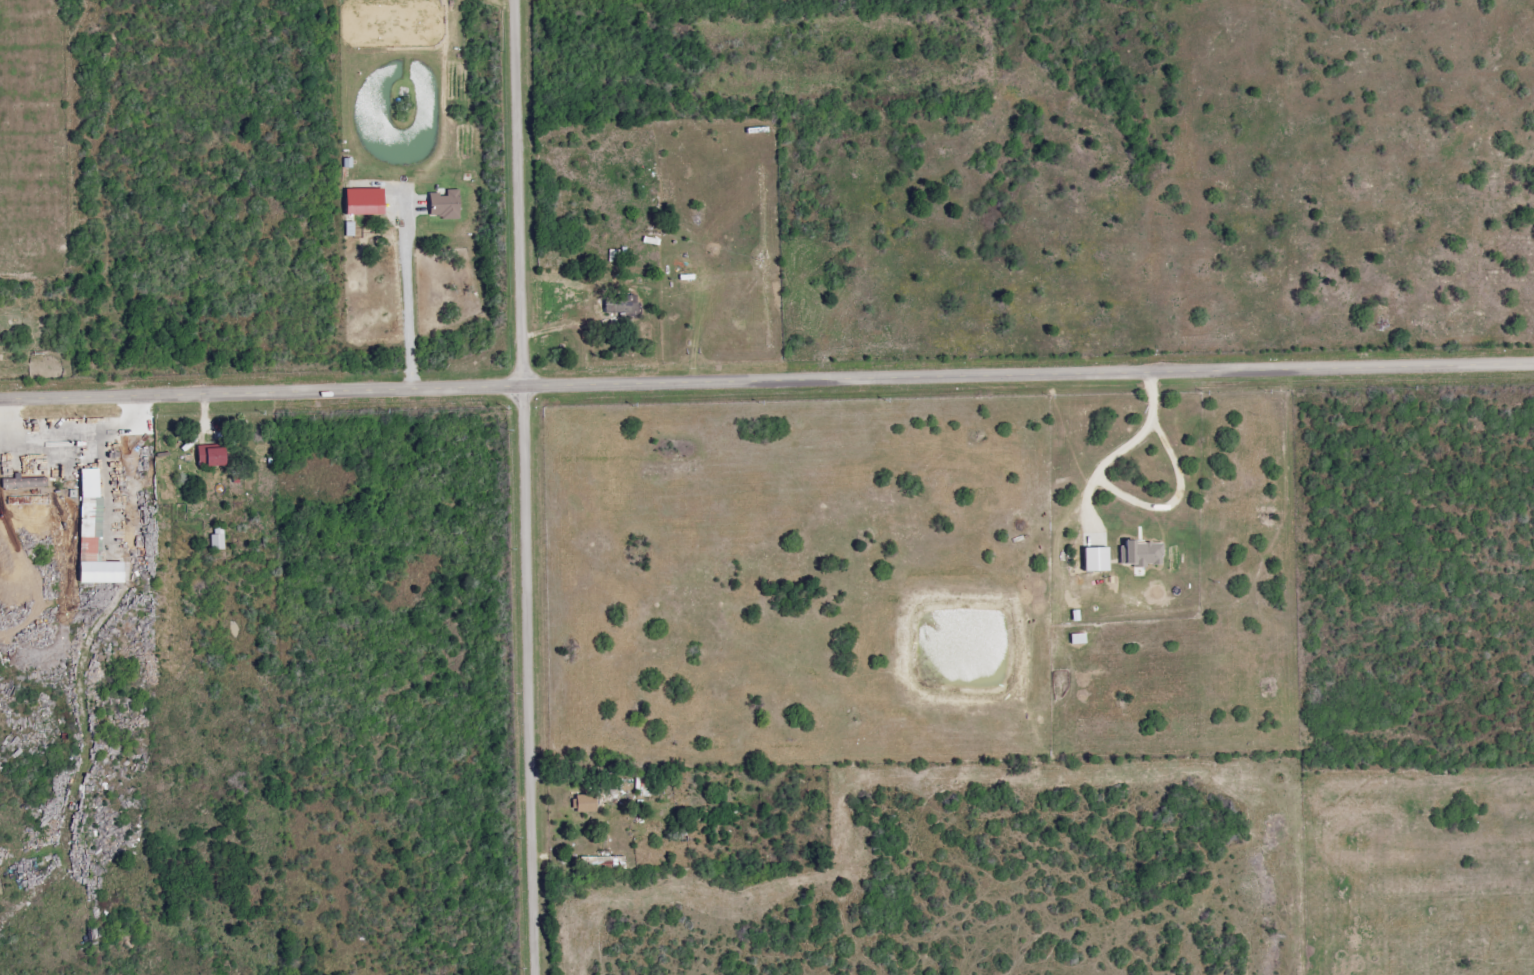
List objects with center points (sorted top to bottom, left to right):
building: (363, 202)
building: (443, 205)
building: (619, 305)
road: (767, 384)
building: (209, 455)
road: (527, 487)
building: (93, 535)
building: (216, 542)
building: (1141, 553)
building: (1094, 559)
building: (584, 803)

